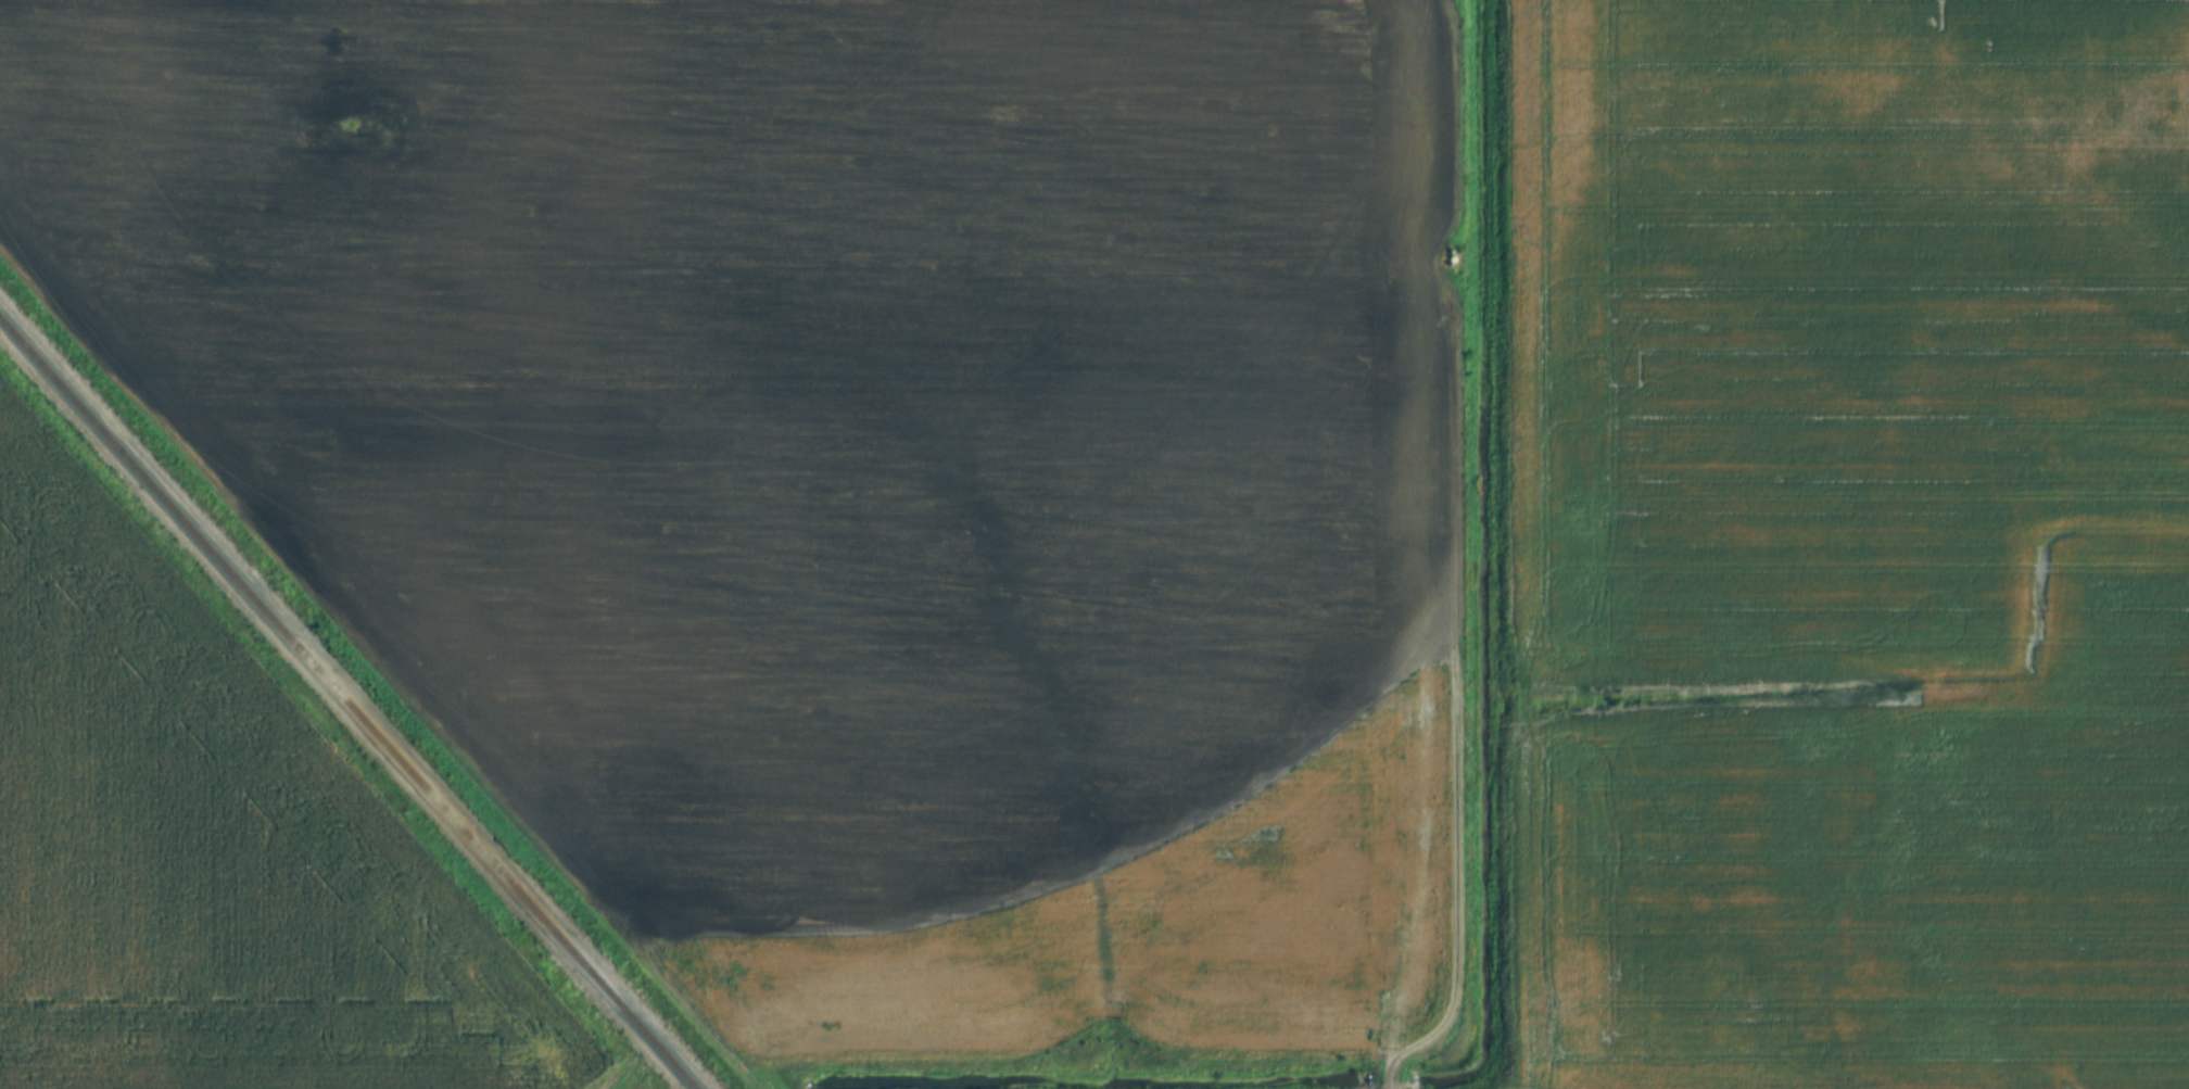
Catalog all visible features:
railway: (345, 706)

